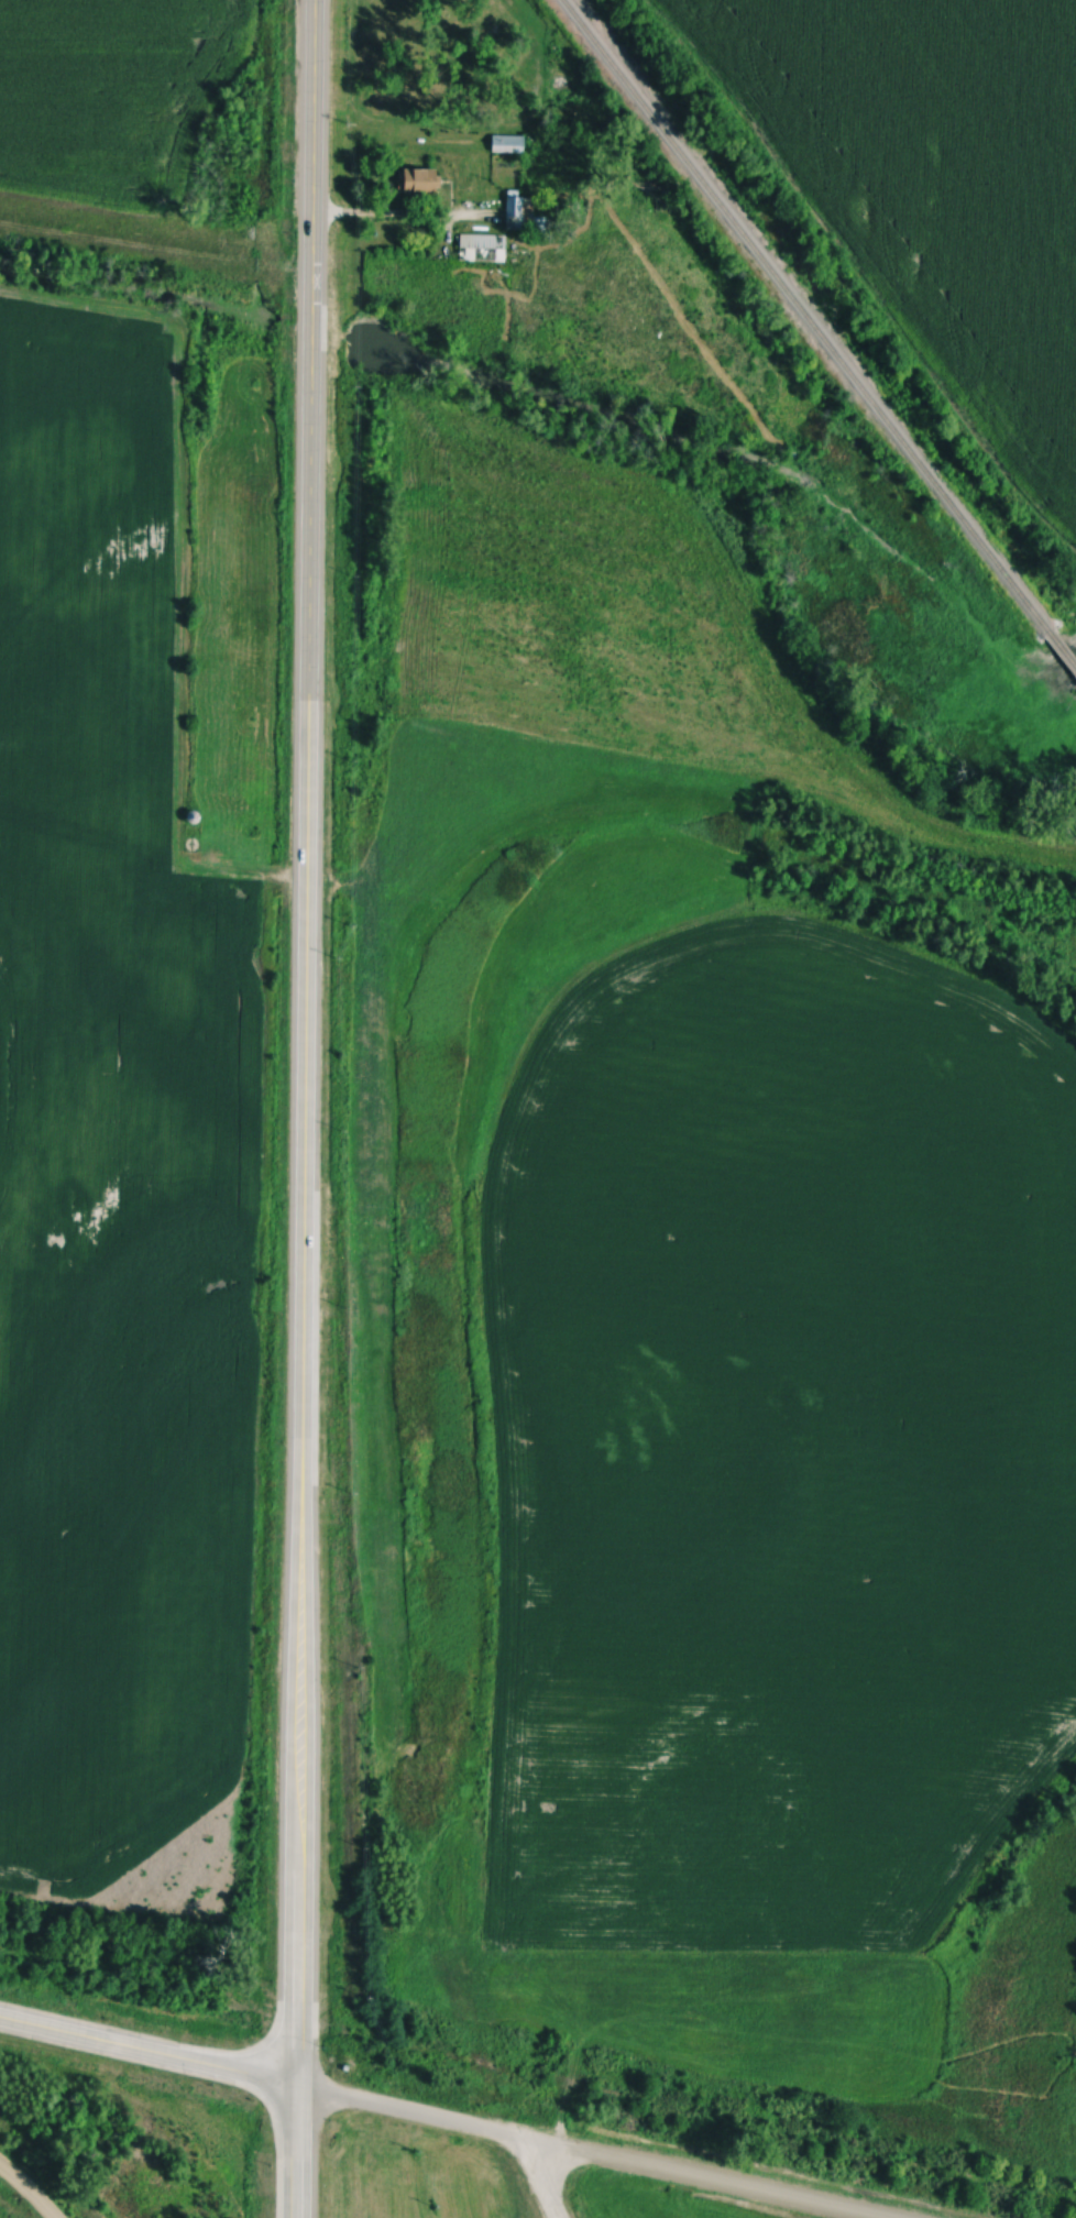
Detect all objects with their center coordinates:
road: (305, 59)
building: (509, 144)
building: (429, 182)
road: (388, 212)
building: (518, 212)
building: (483, 249)
railway: (819, 334)
road: (294, 1168)
road: (147, 2049)
road: (446, 2118)
road: (542, 2176)
road: (747, 2182)
road: (28, 2188)

